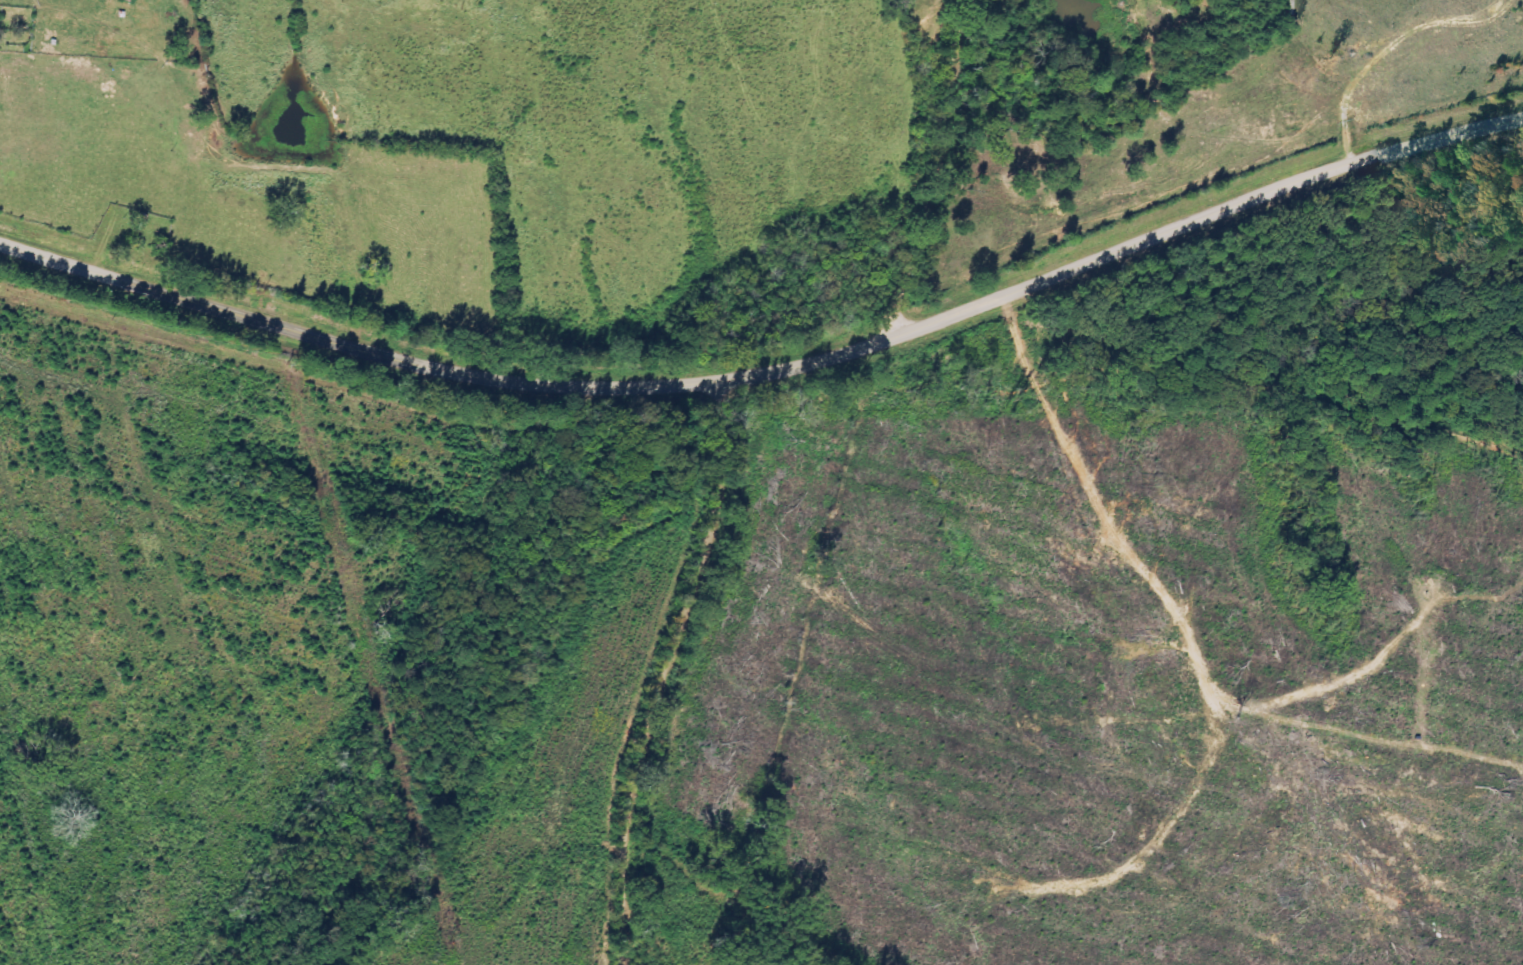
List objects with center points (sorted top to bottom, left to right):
road: (939, 165)
road: (772, 373)
road: (695, 676)

